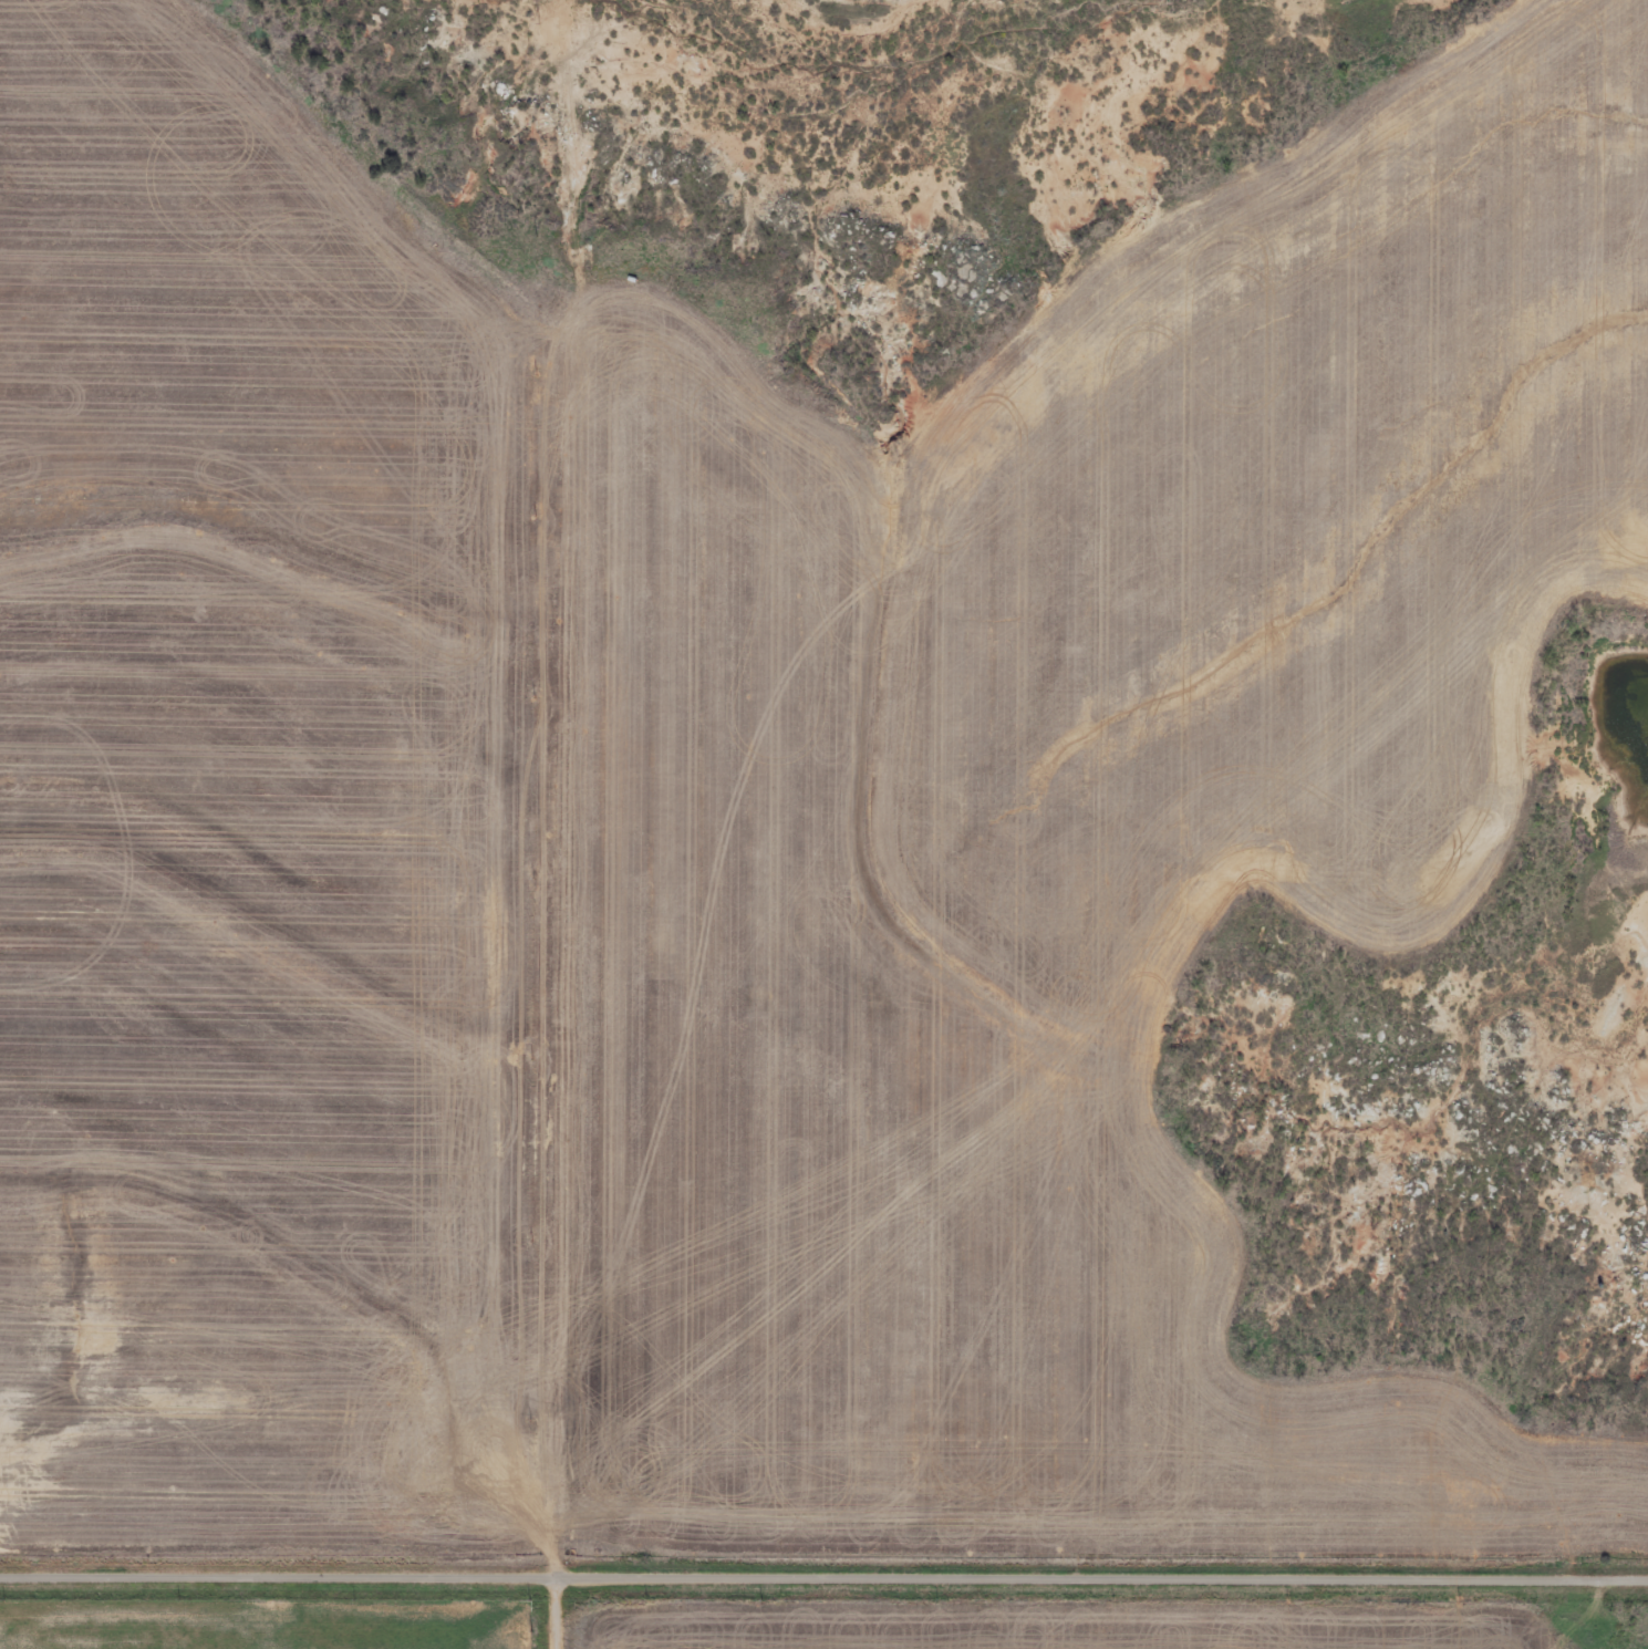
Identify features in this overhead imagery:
road: (823, 1576)
road: (562, 1612)

